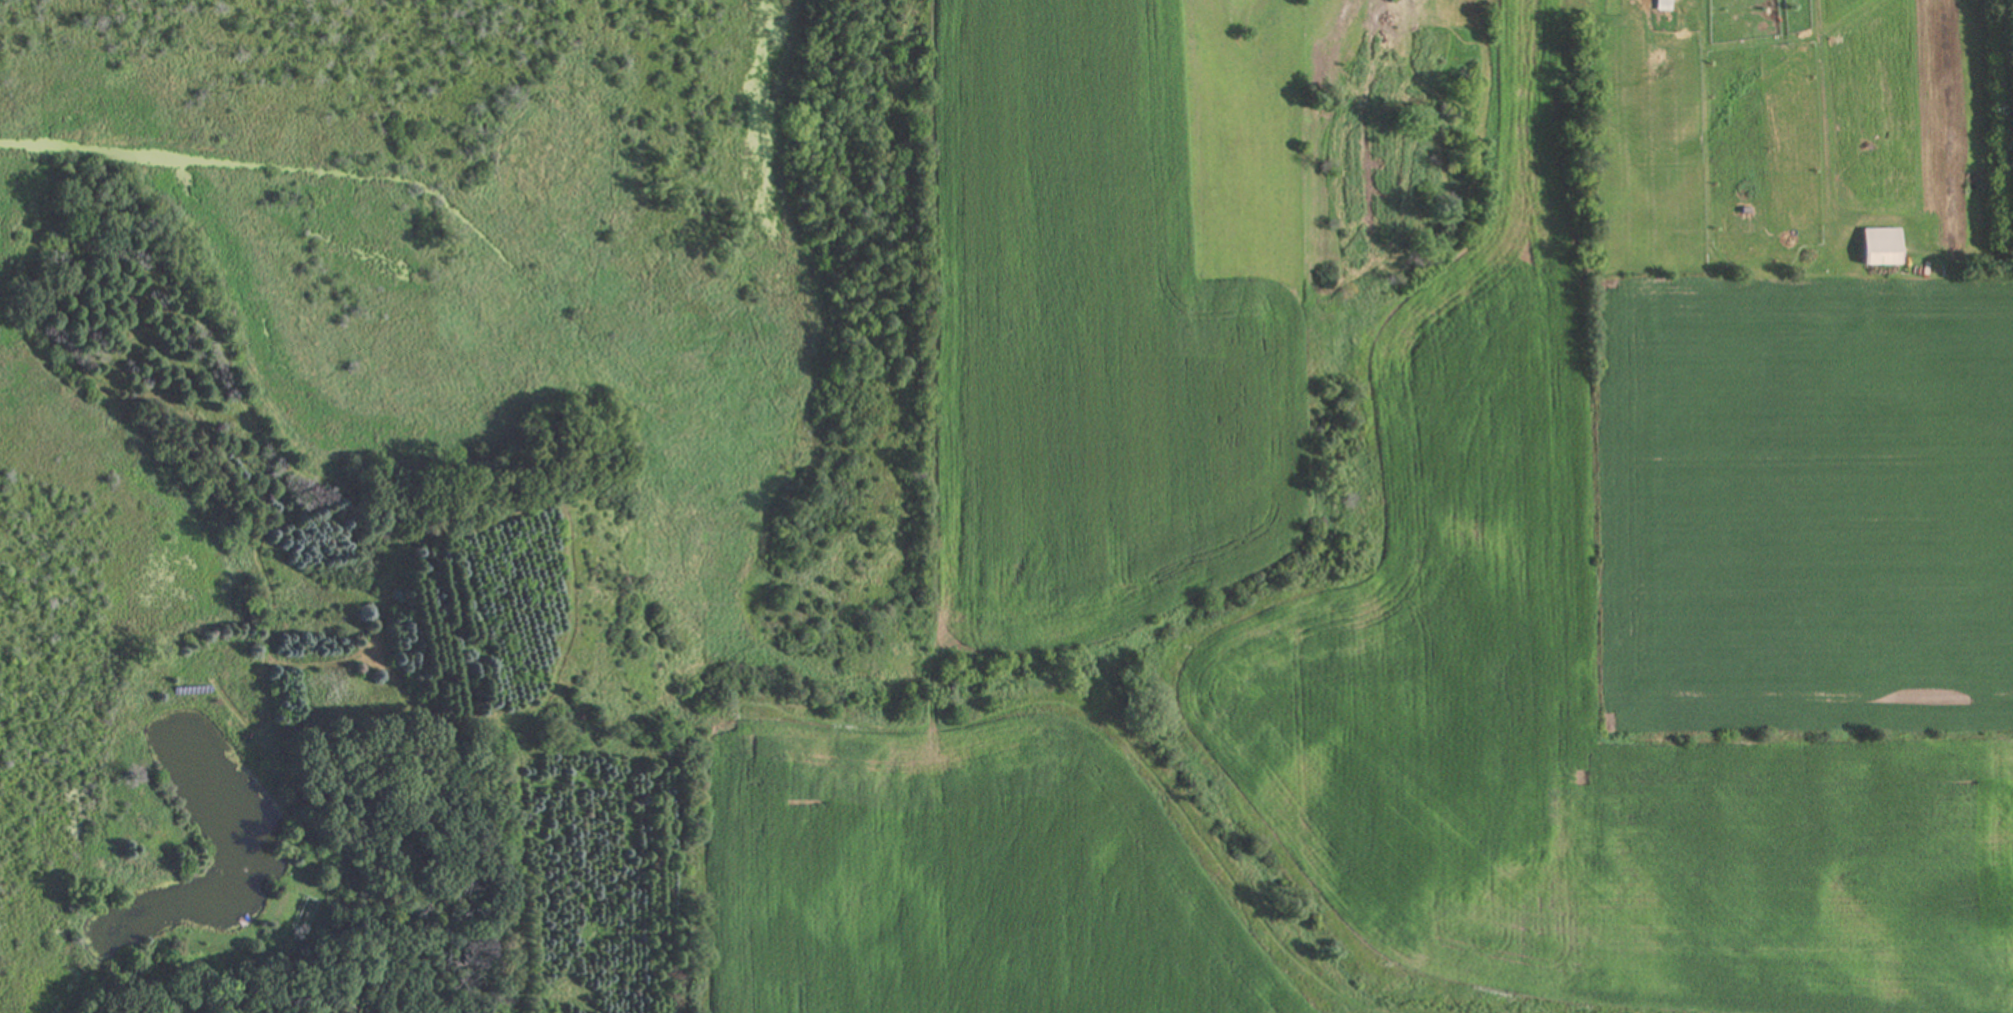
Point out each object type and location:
building: (1660, 5)
building: (1875, 245)

